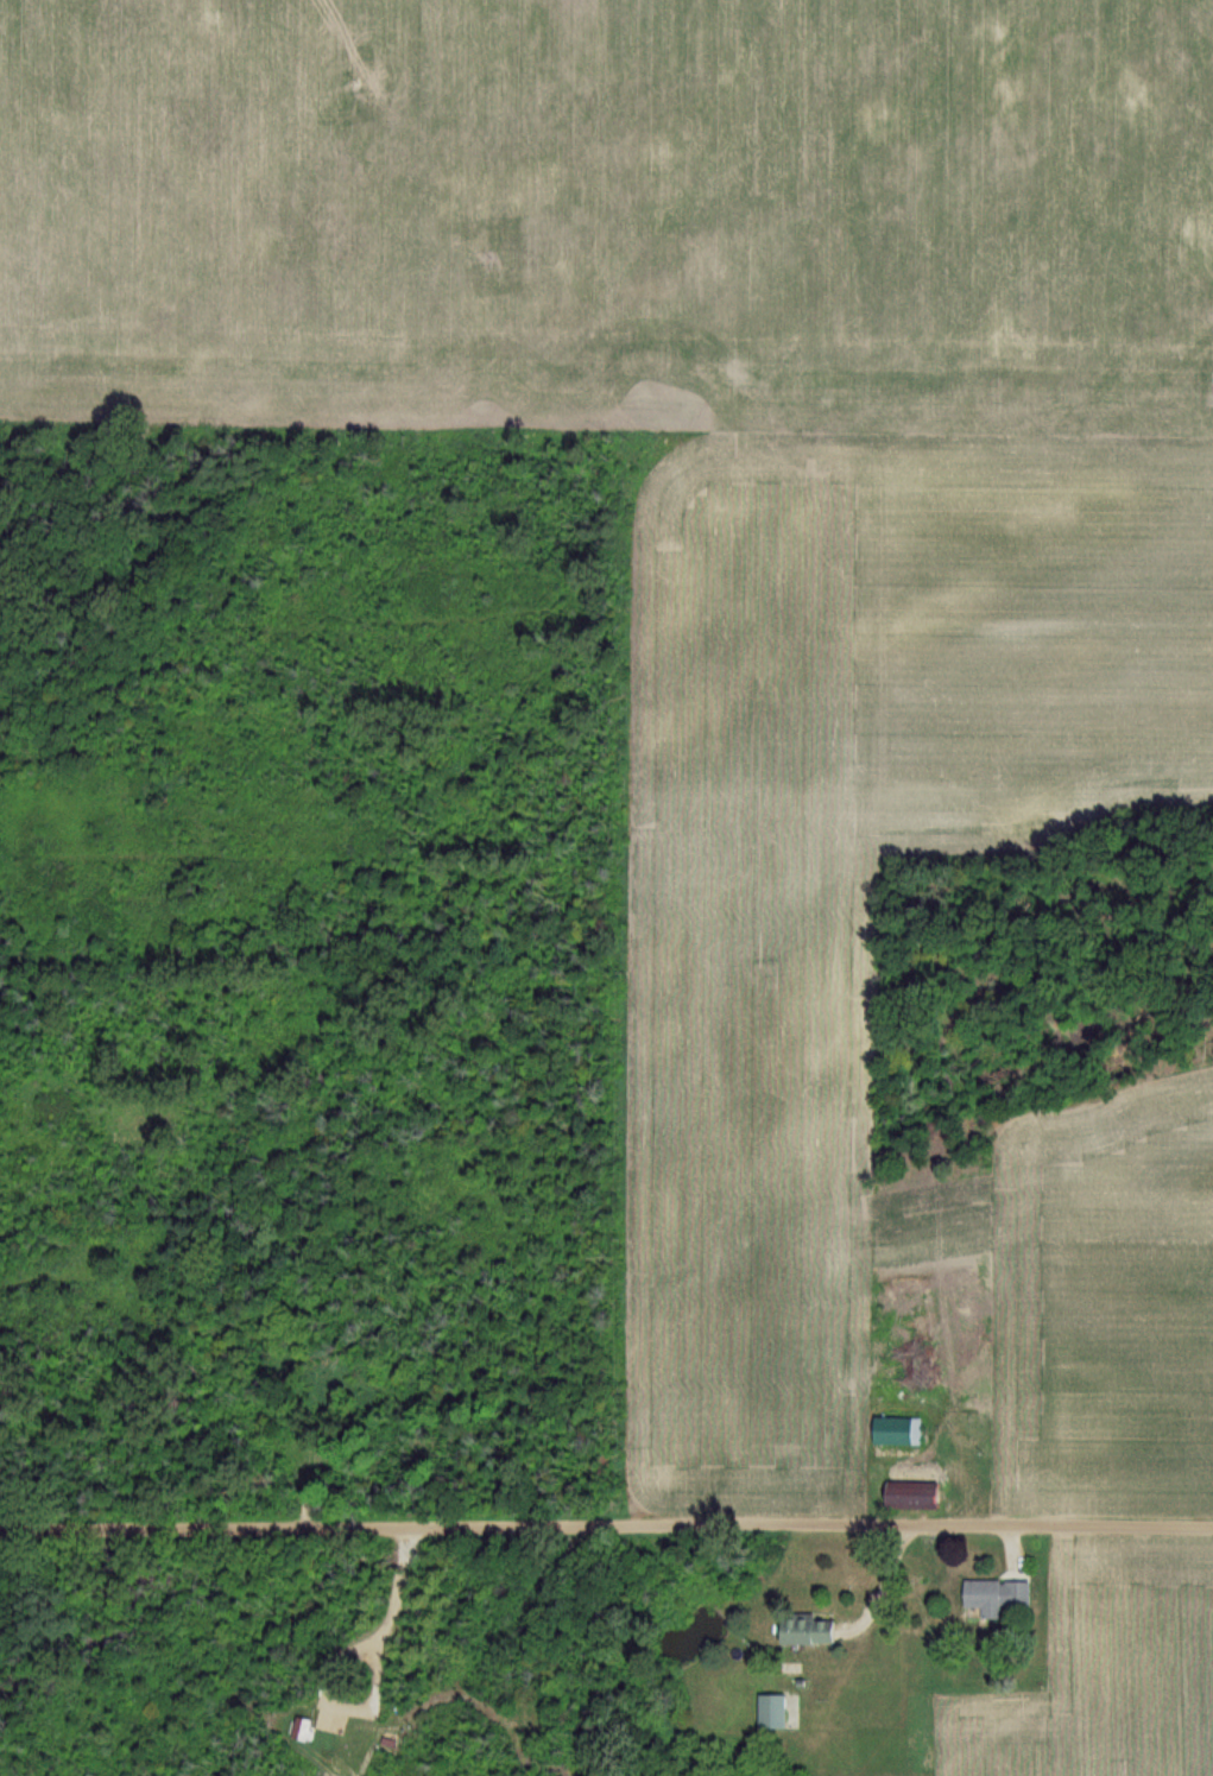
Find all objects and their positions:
building: (893, 1429)
building: (904, 1493)
road: (606, 1528)
road: (880, 1584)
building: (991, 1595)
building: (805, 1630)
building: (776, 1711)

